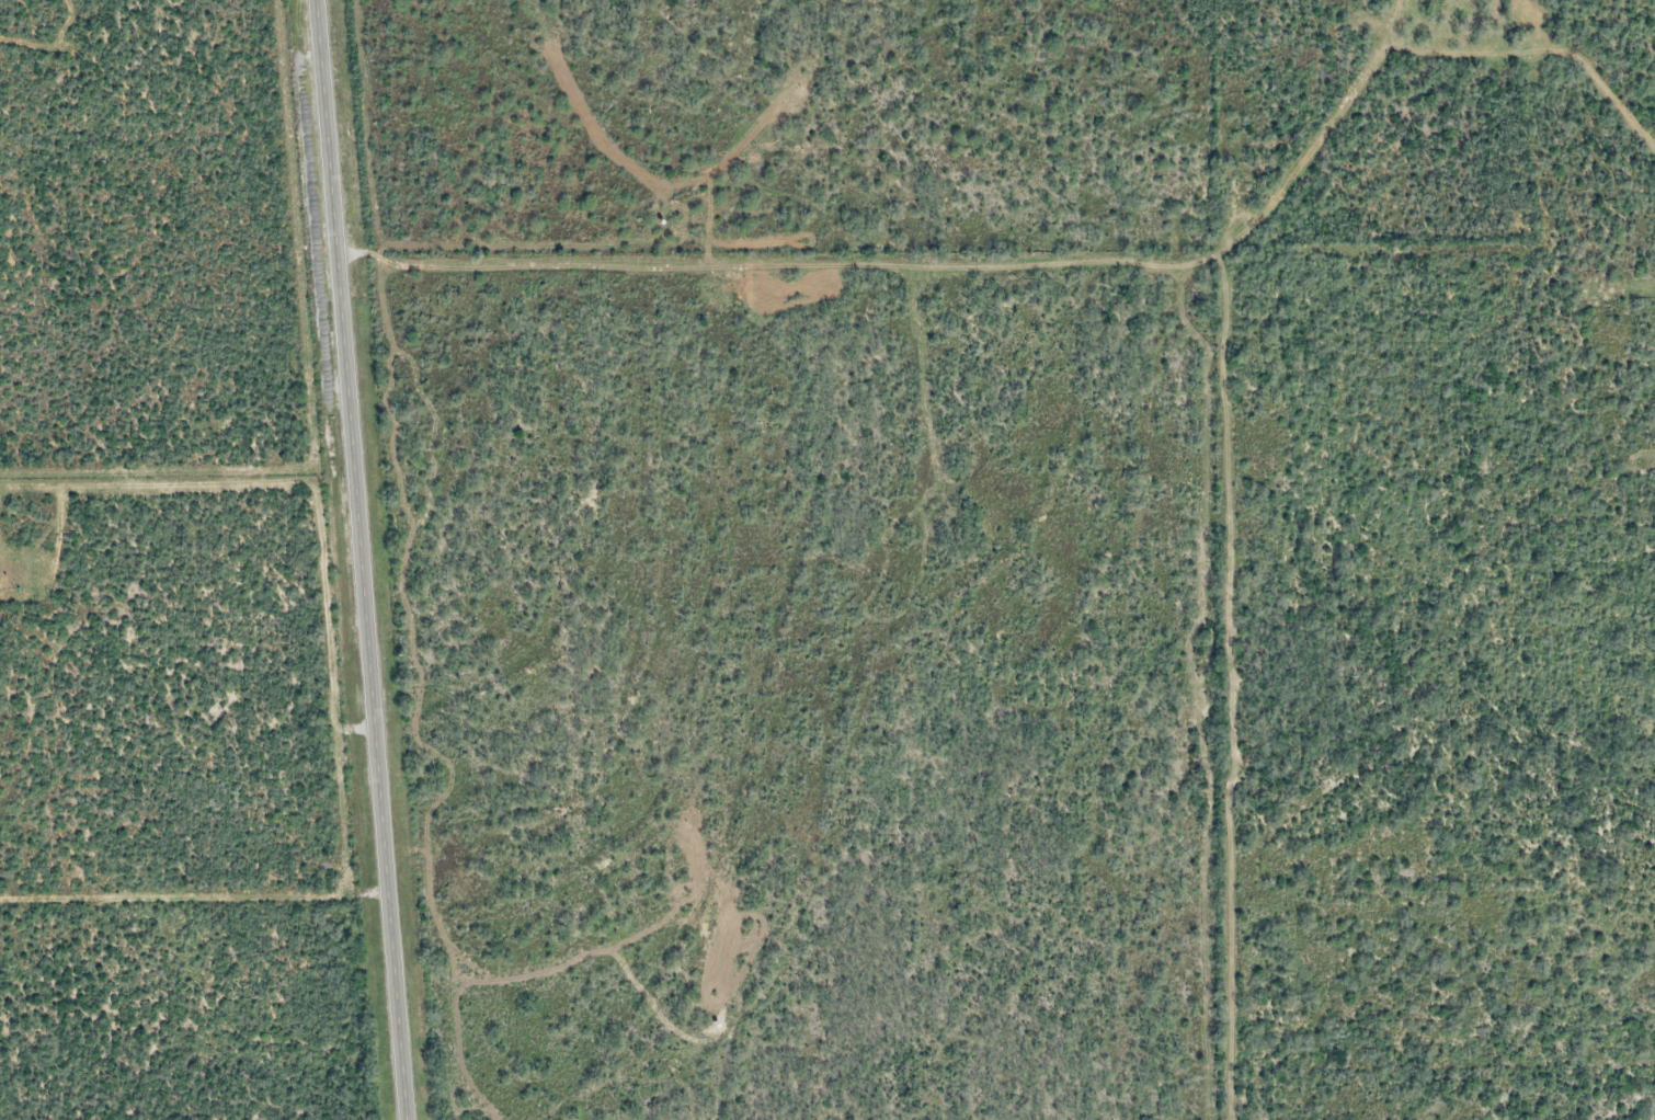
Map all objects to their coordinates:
road: (361, 560)

